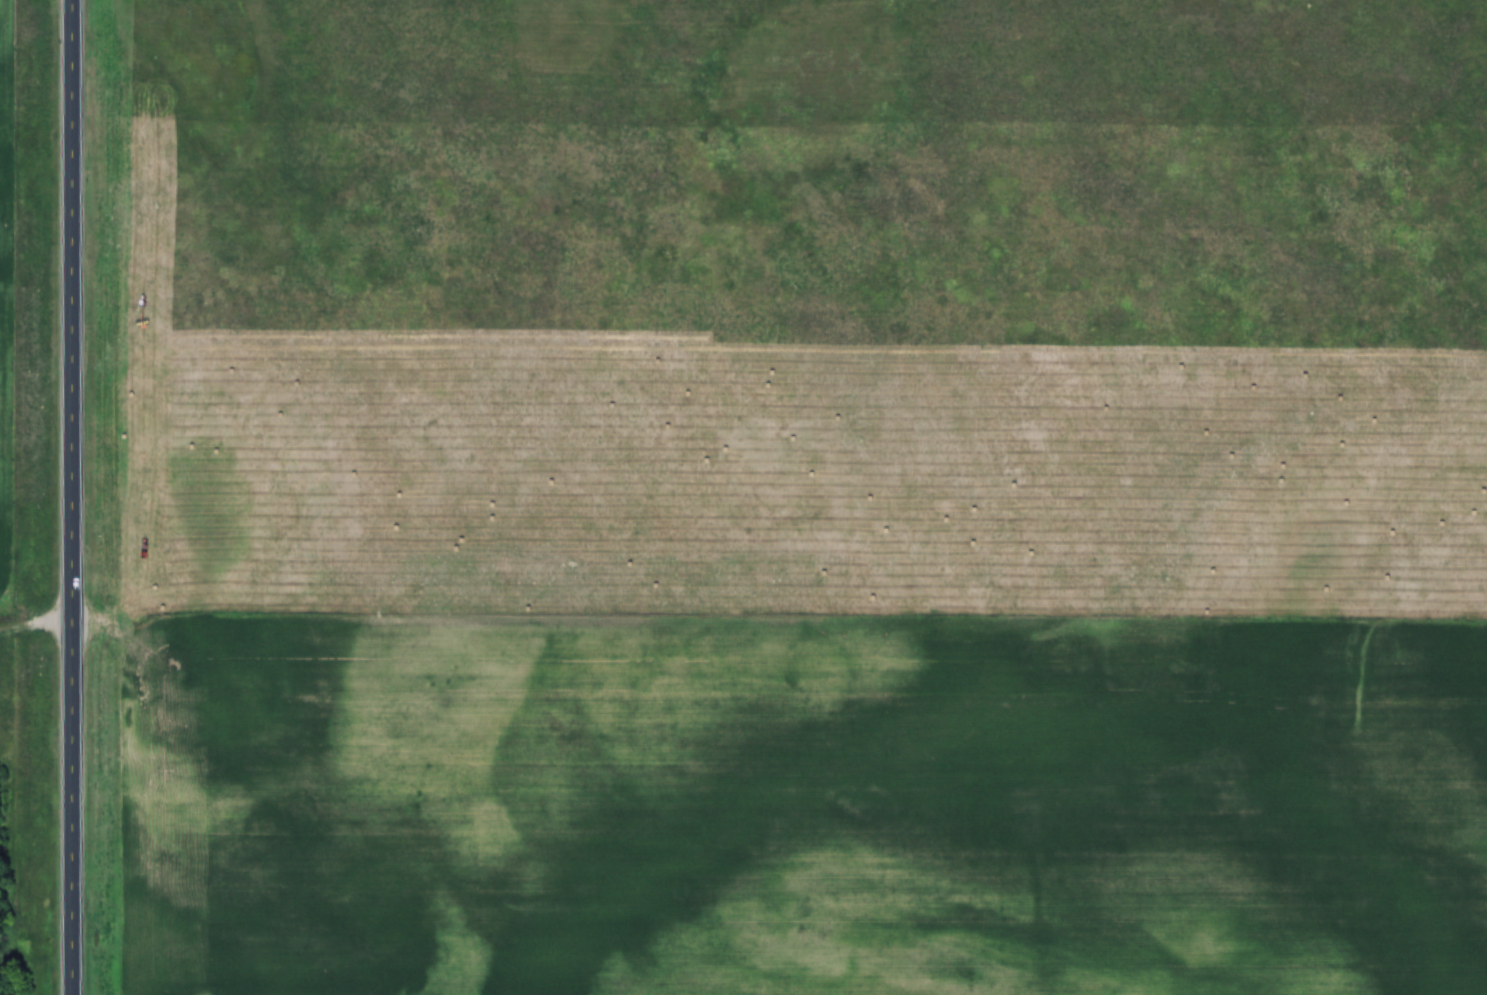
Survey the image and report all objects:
road: (70, 497)

